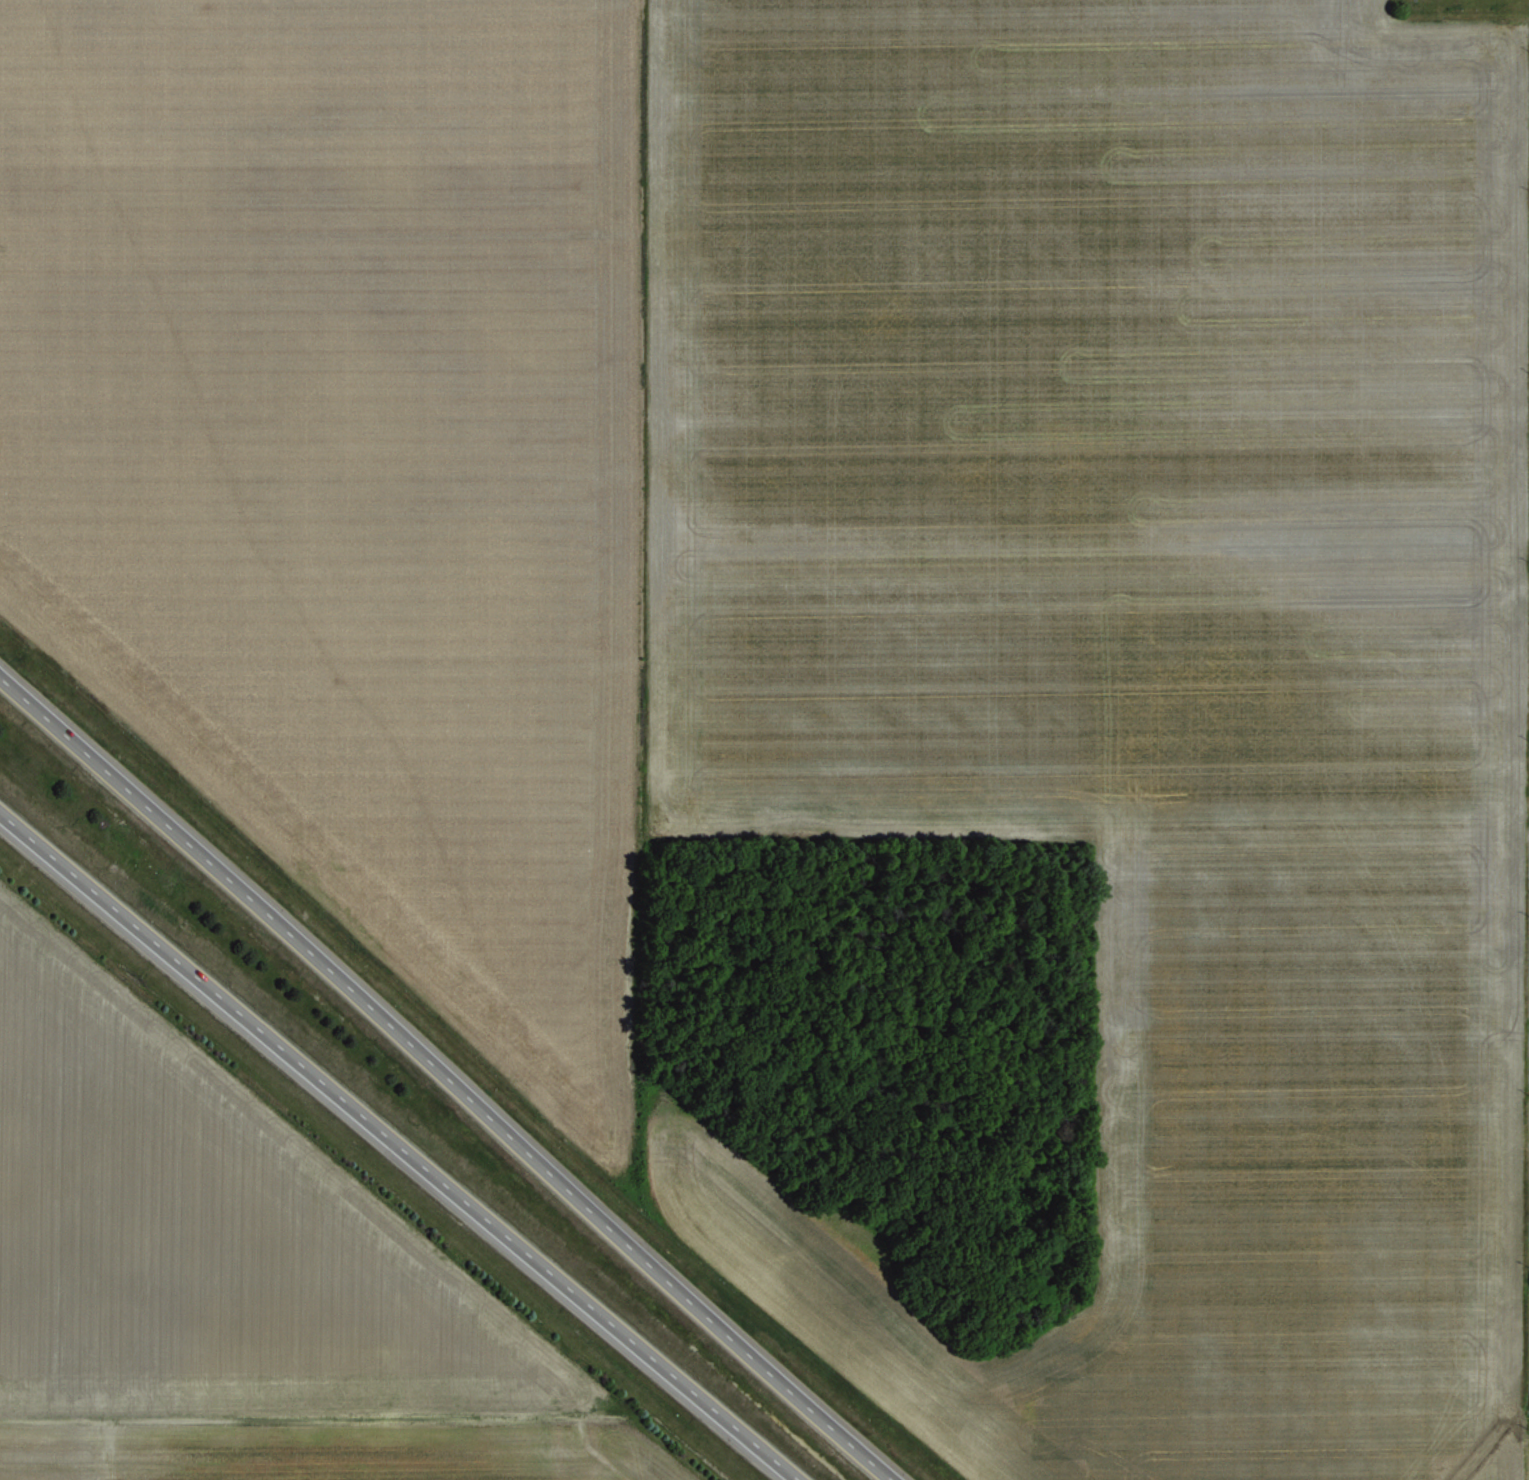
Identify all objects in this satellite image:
road: (450, 1075)
road: (396, 1149)

